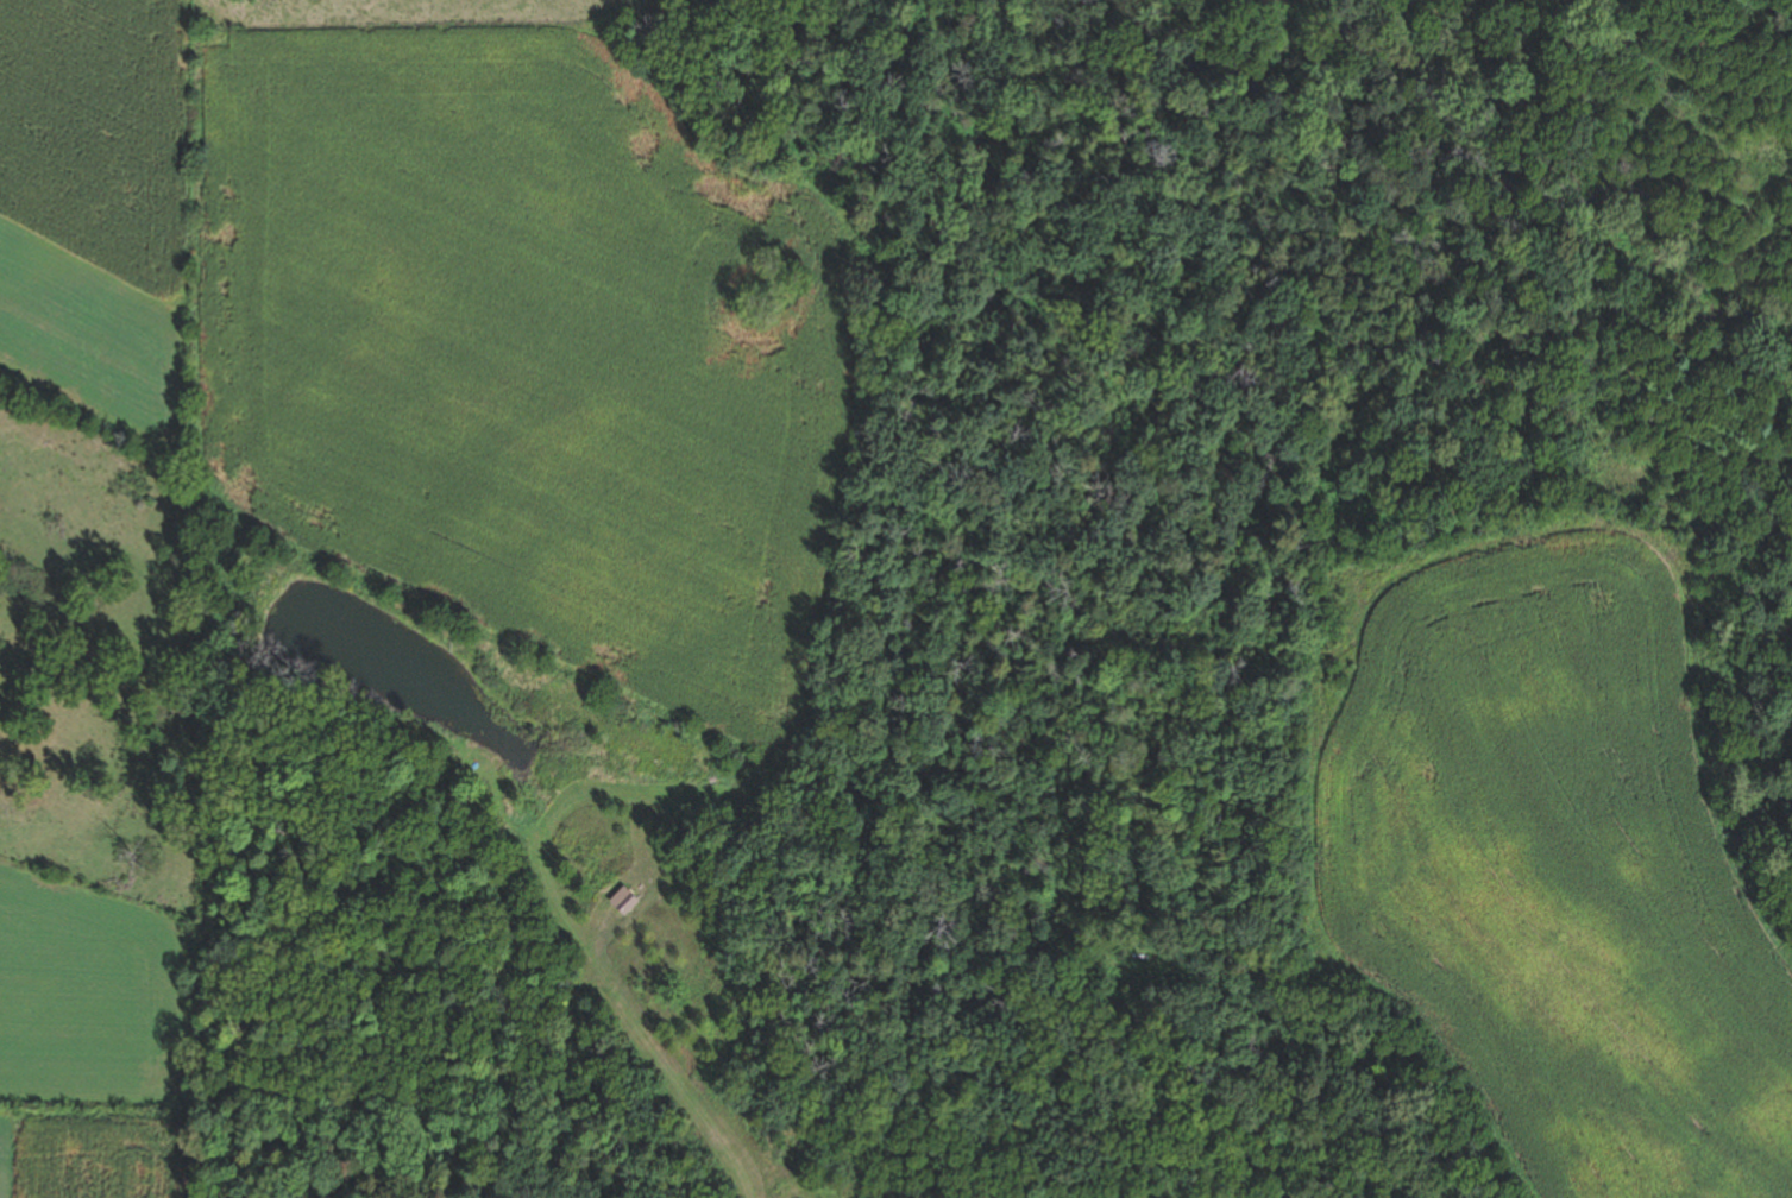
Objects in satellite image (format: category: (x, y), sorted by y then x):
building: (625, 901)

